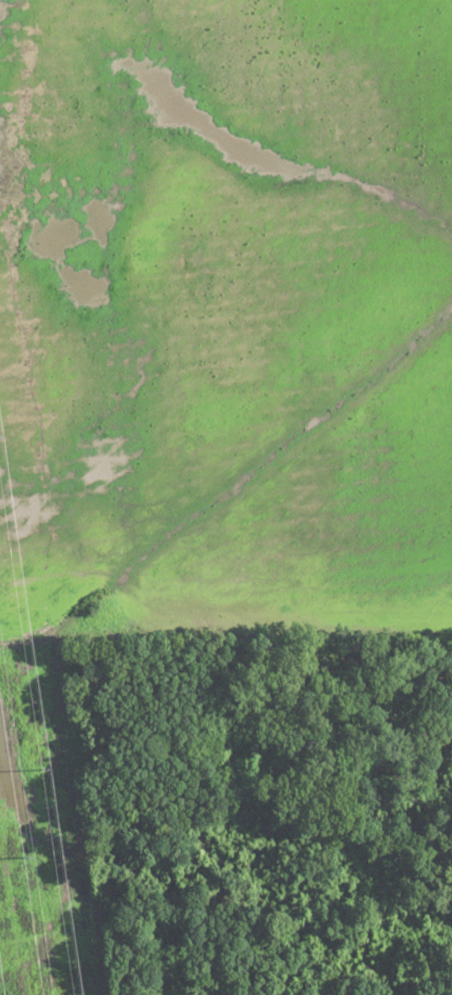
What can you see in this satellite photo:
power tower: (19, 775)

